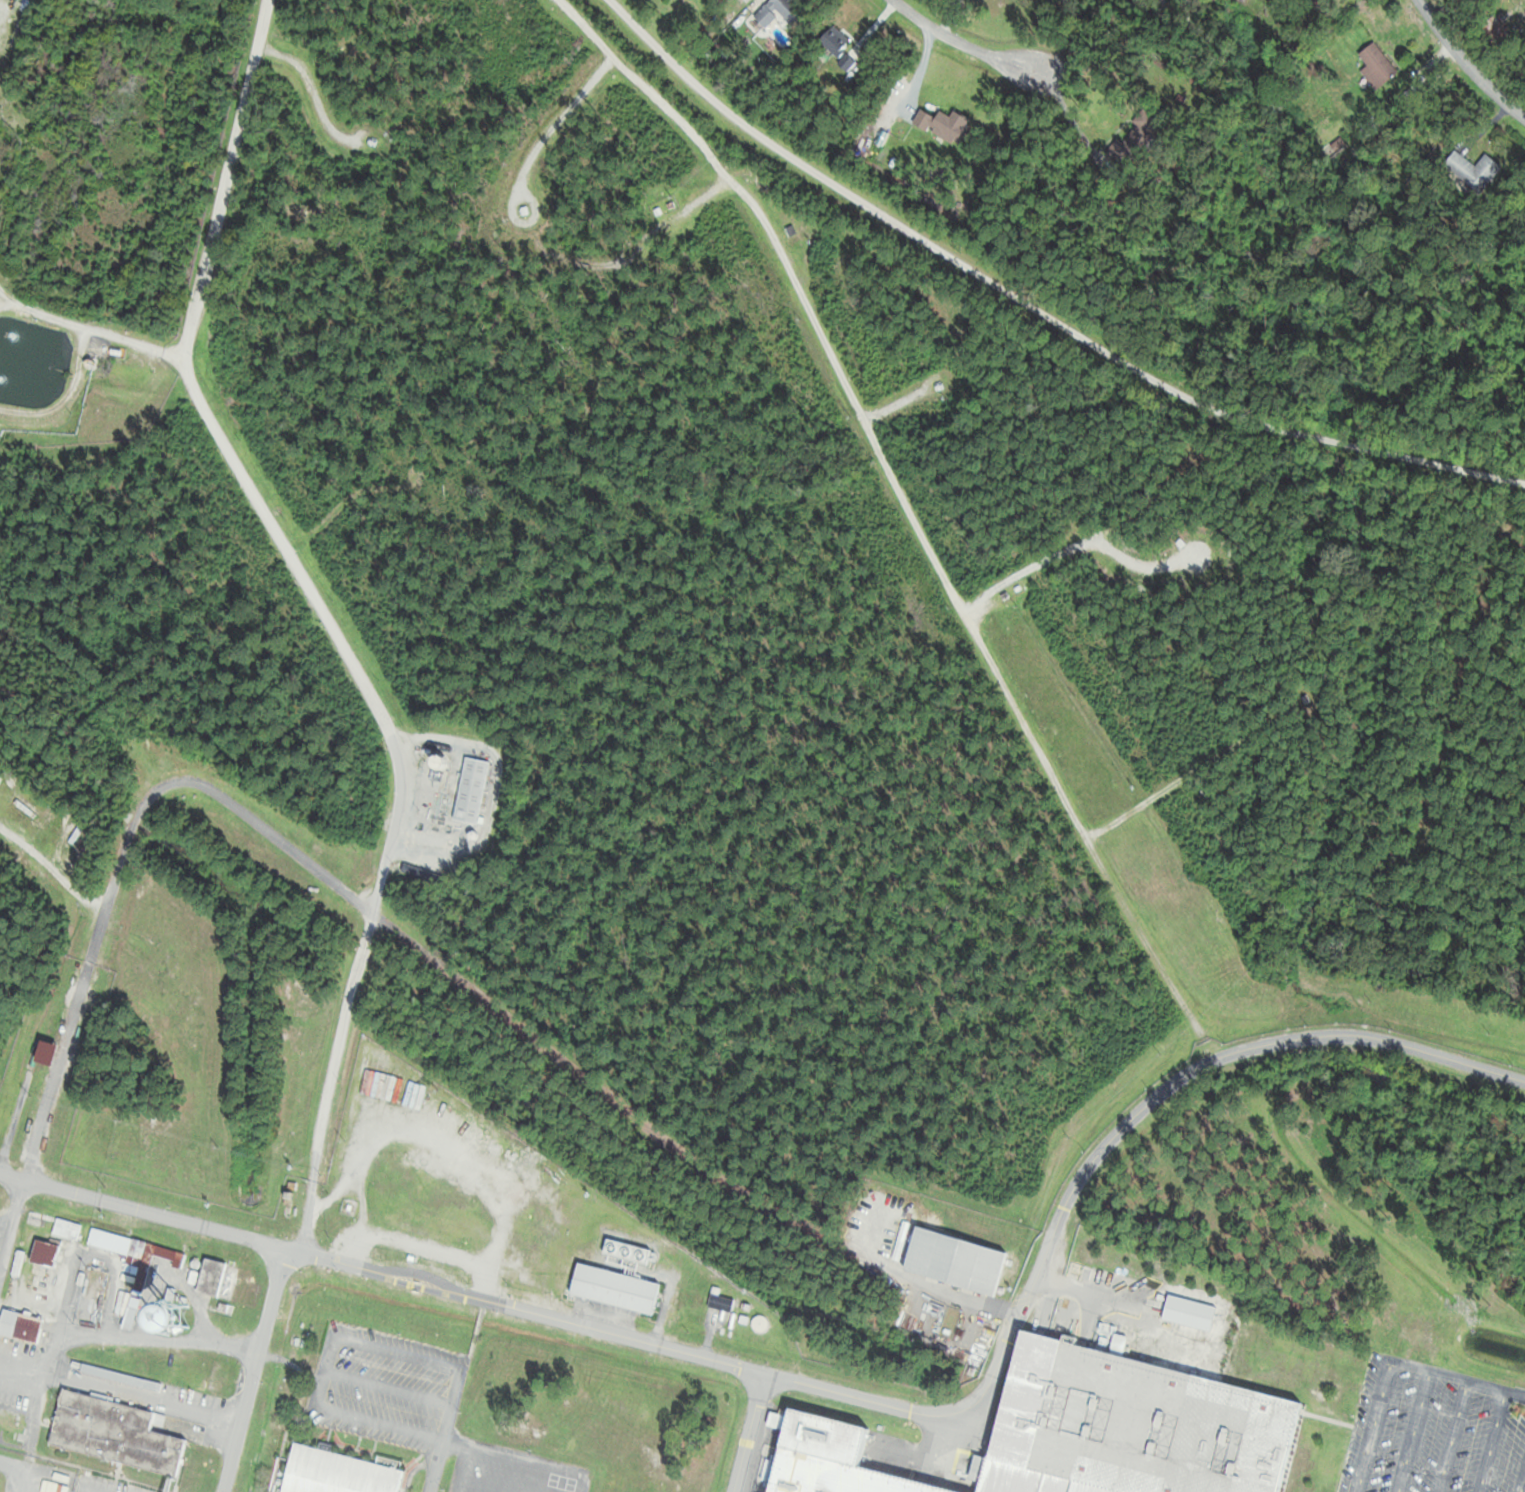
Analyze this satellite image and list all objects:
building: (1319, 1)
building: (779, 12)
building: (1496, 33)
building: (833, 41)
road: (961, 46)
building: (1377, 63)
road: (1466, 63)
building: (942, 124)
building: (1132, 143)
building: (1471, 170)
road: (1035, 305)
road: (91, 327)
road: (332, 619)
building: (470, 791)
road: (407, 941)
building: (65, 1229)
building: (44, 1254)
building: (954, 1260)
building: (134, 1263)
building: (210, 1277)
building: (613, 1289)
building: (720, 1303)
building: (1182, 1319)
building: (157, 1325)
building: (20, 1326)
road: (254, 1370)
road: (847, 1393)
building: (11, 1419)
building: (1129, 1426)
building: (113, 1432)
road: (748, 1432)
building: (336, 1472)
building: (839, 1477)

